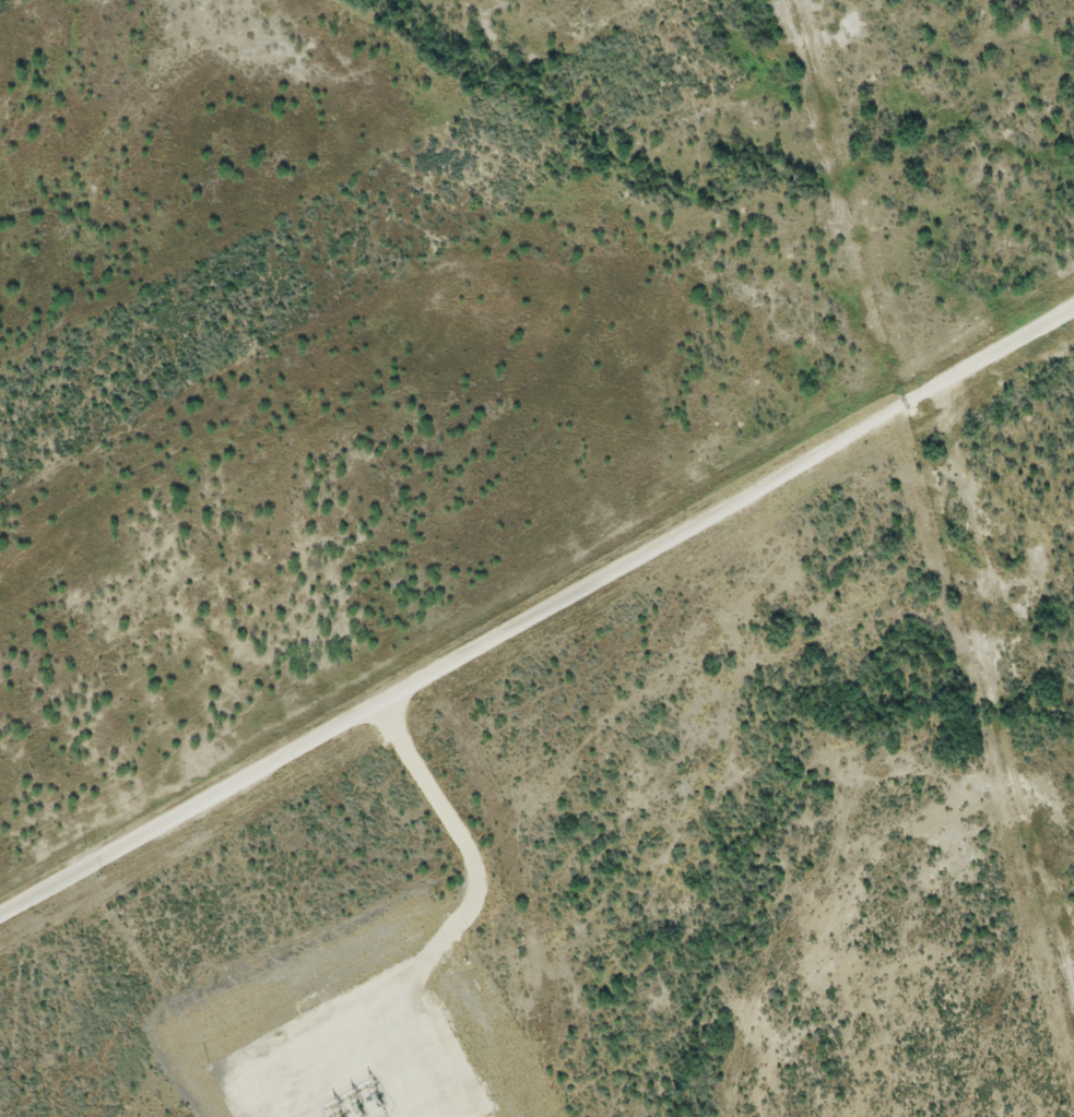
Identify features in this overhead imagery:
road: (540, 617)

